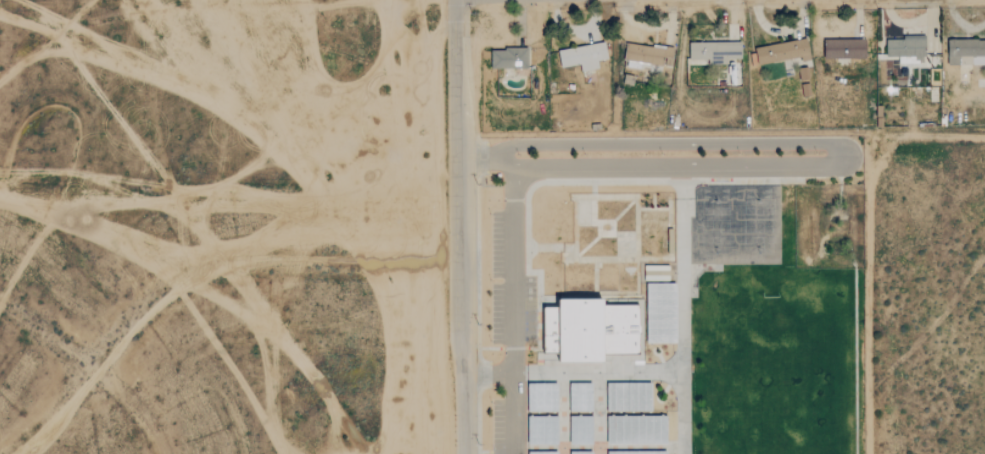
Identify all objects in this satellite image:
building: (845, 49)
building: (906, 49)
building: (783, 51)
building: (714, 52)
building: (966, 52)
building: (584, 56)
building: (648, 56)
building: (509, 58)
road: (851, 153)
road: (230, 201)
road: (461, 227)
road: (514, 269)
building: (655, 273)
building: (662, 313)
building: (592, 330)
park: (777, 359)
road: (514, 384)
building: (543, 397)
building: (581, 397)
building: (629, 397)
building: (637, 429)
building: (542, 430)
building: (581, 430)
building: (582, 452)
building: (637, 452)
building: (543, 453)

